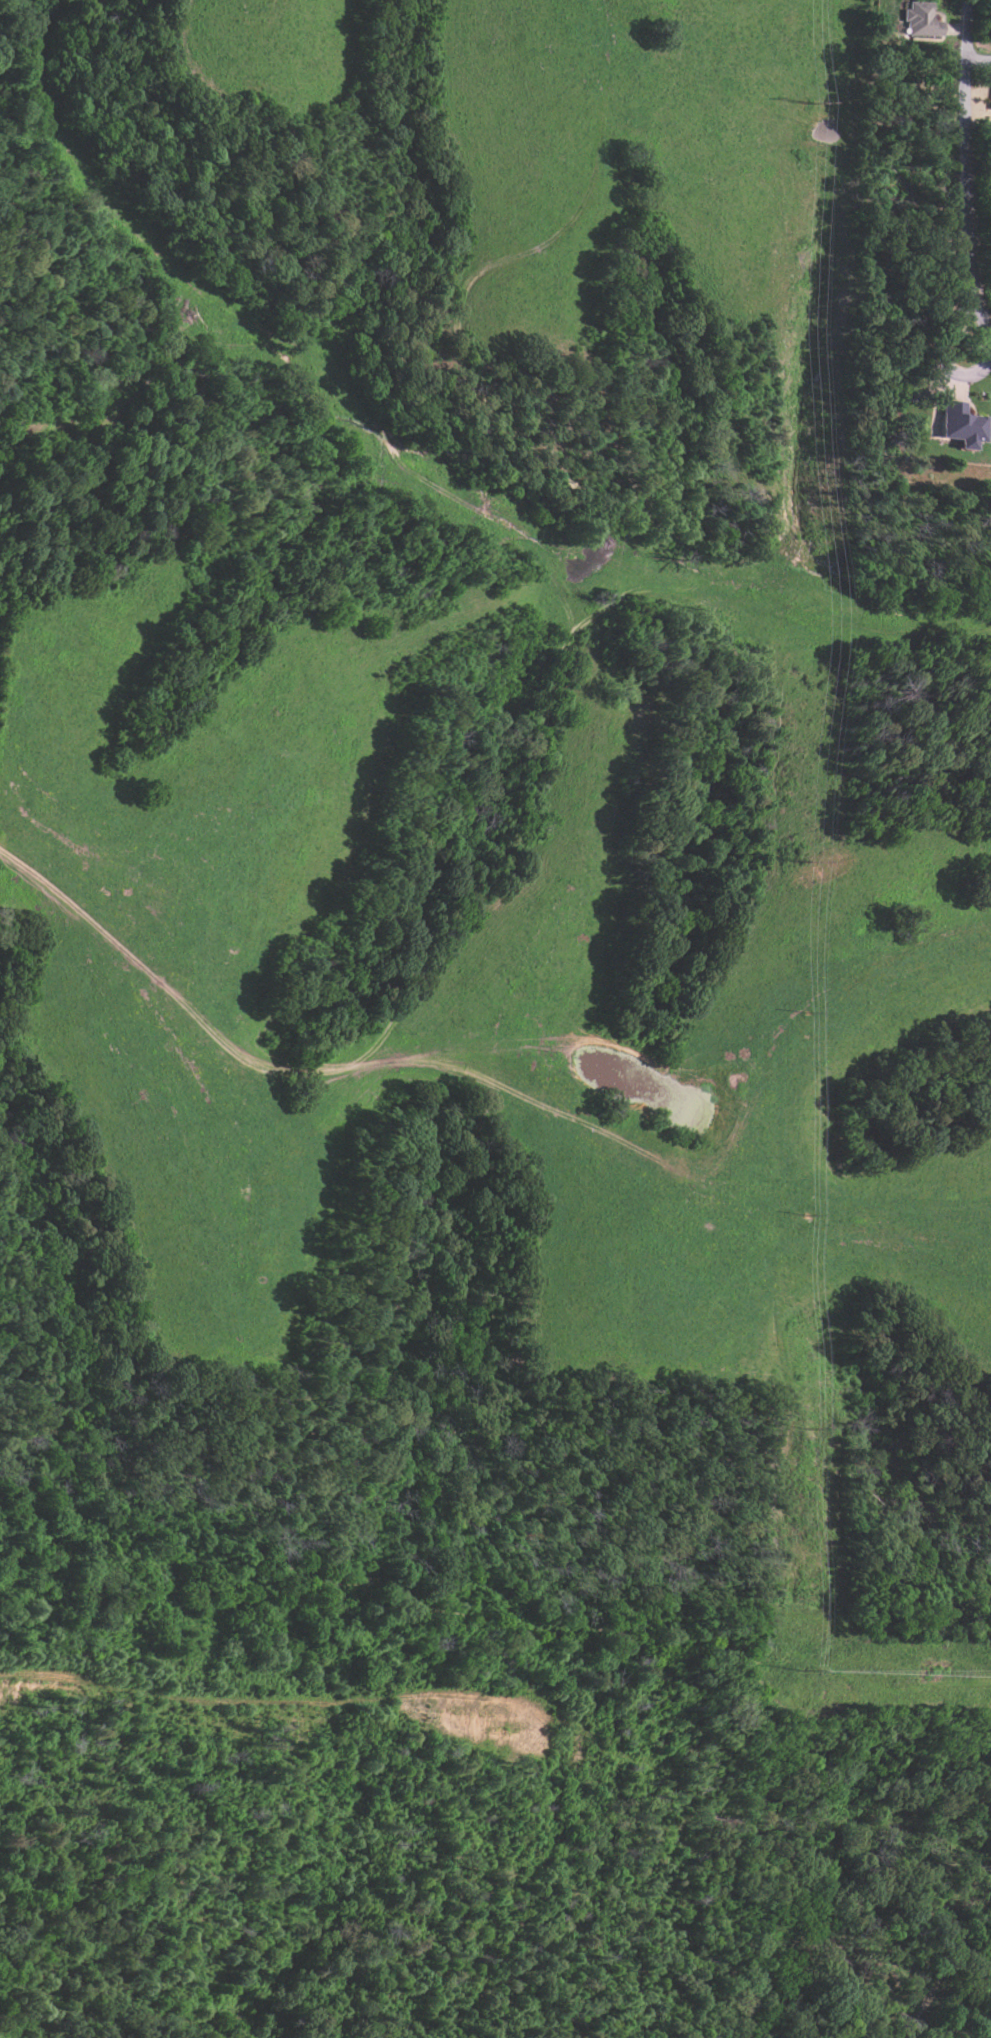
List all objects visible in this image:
building: (920, 19)
road: (968, 29)
road: (932, 56)
building: (990, 100)
road: (969, 204)
building: (959, 424)
road: (945, 1968)

